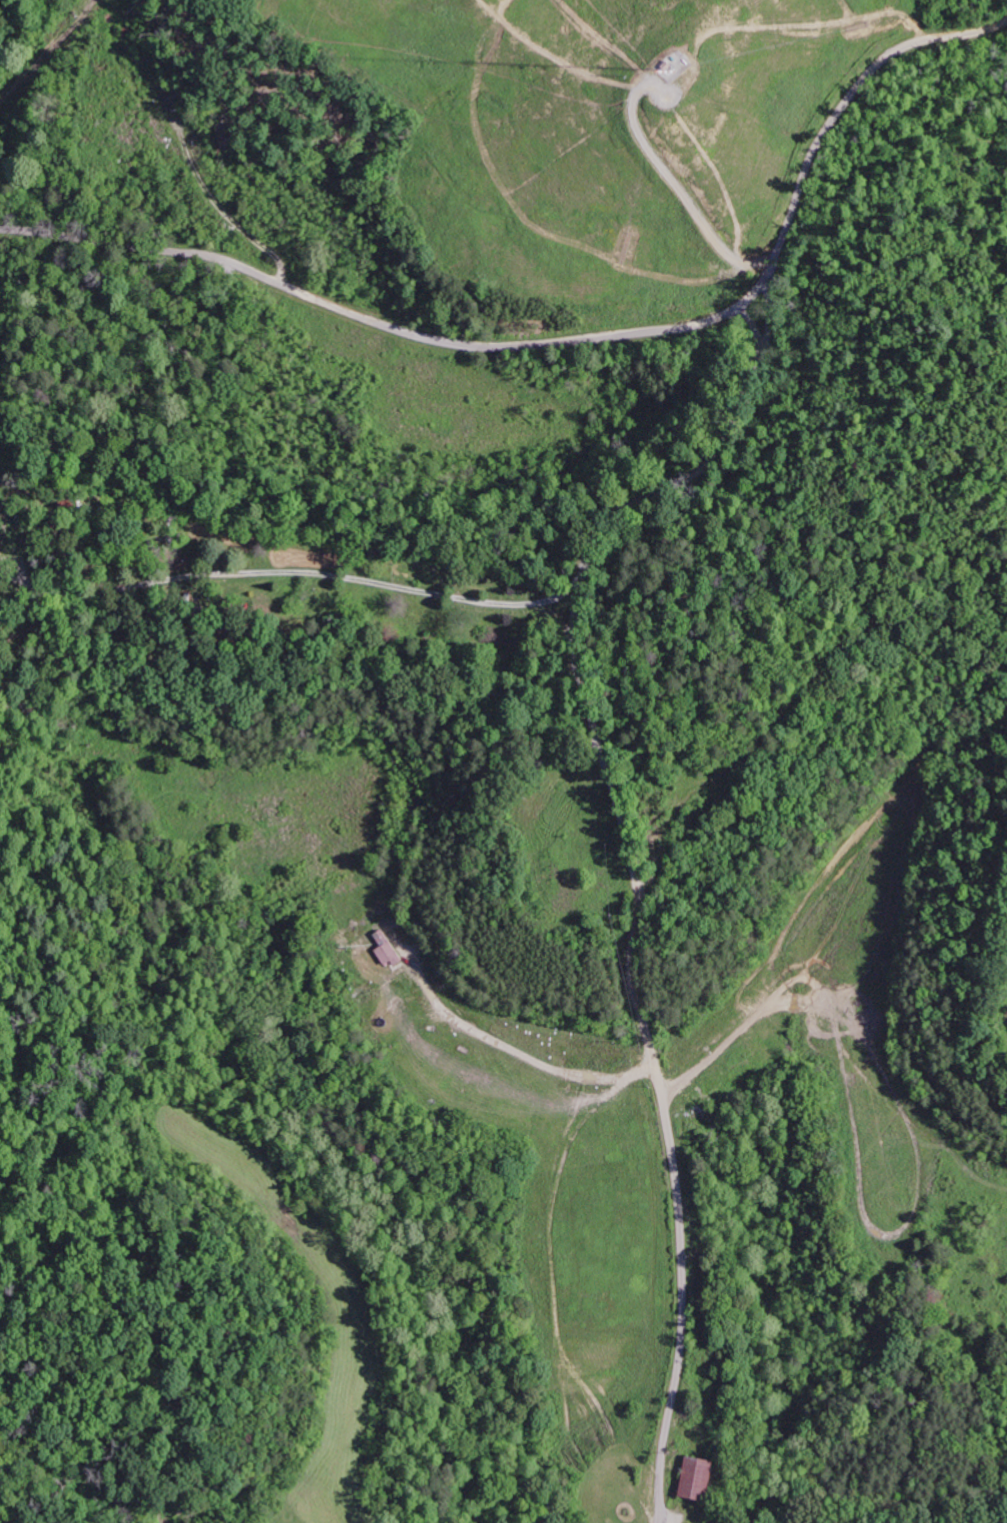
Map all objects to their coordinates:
road: (575, 339)
building: (0, 538)
road: (284, 570)
road: (532, 602)
road: (631, 854)
building: (392, 955)
building: (690, 1477)

